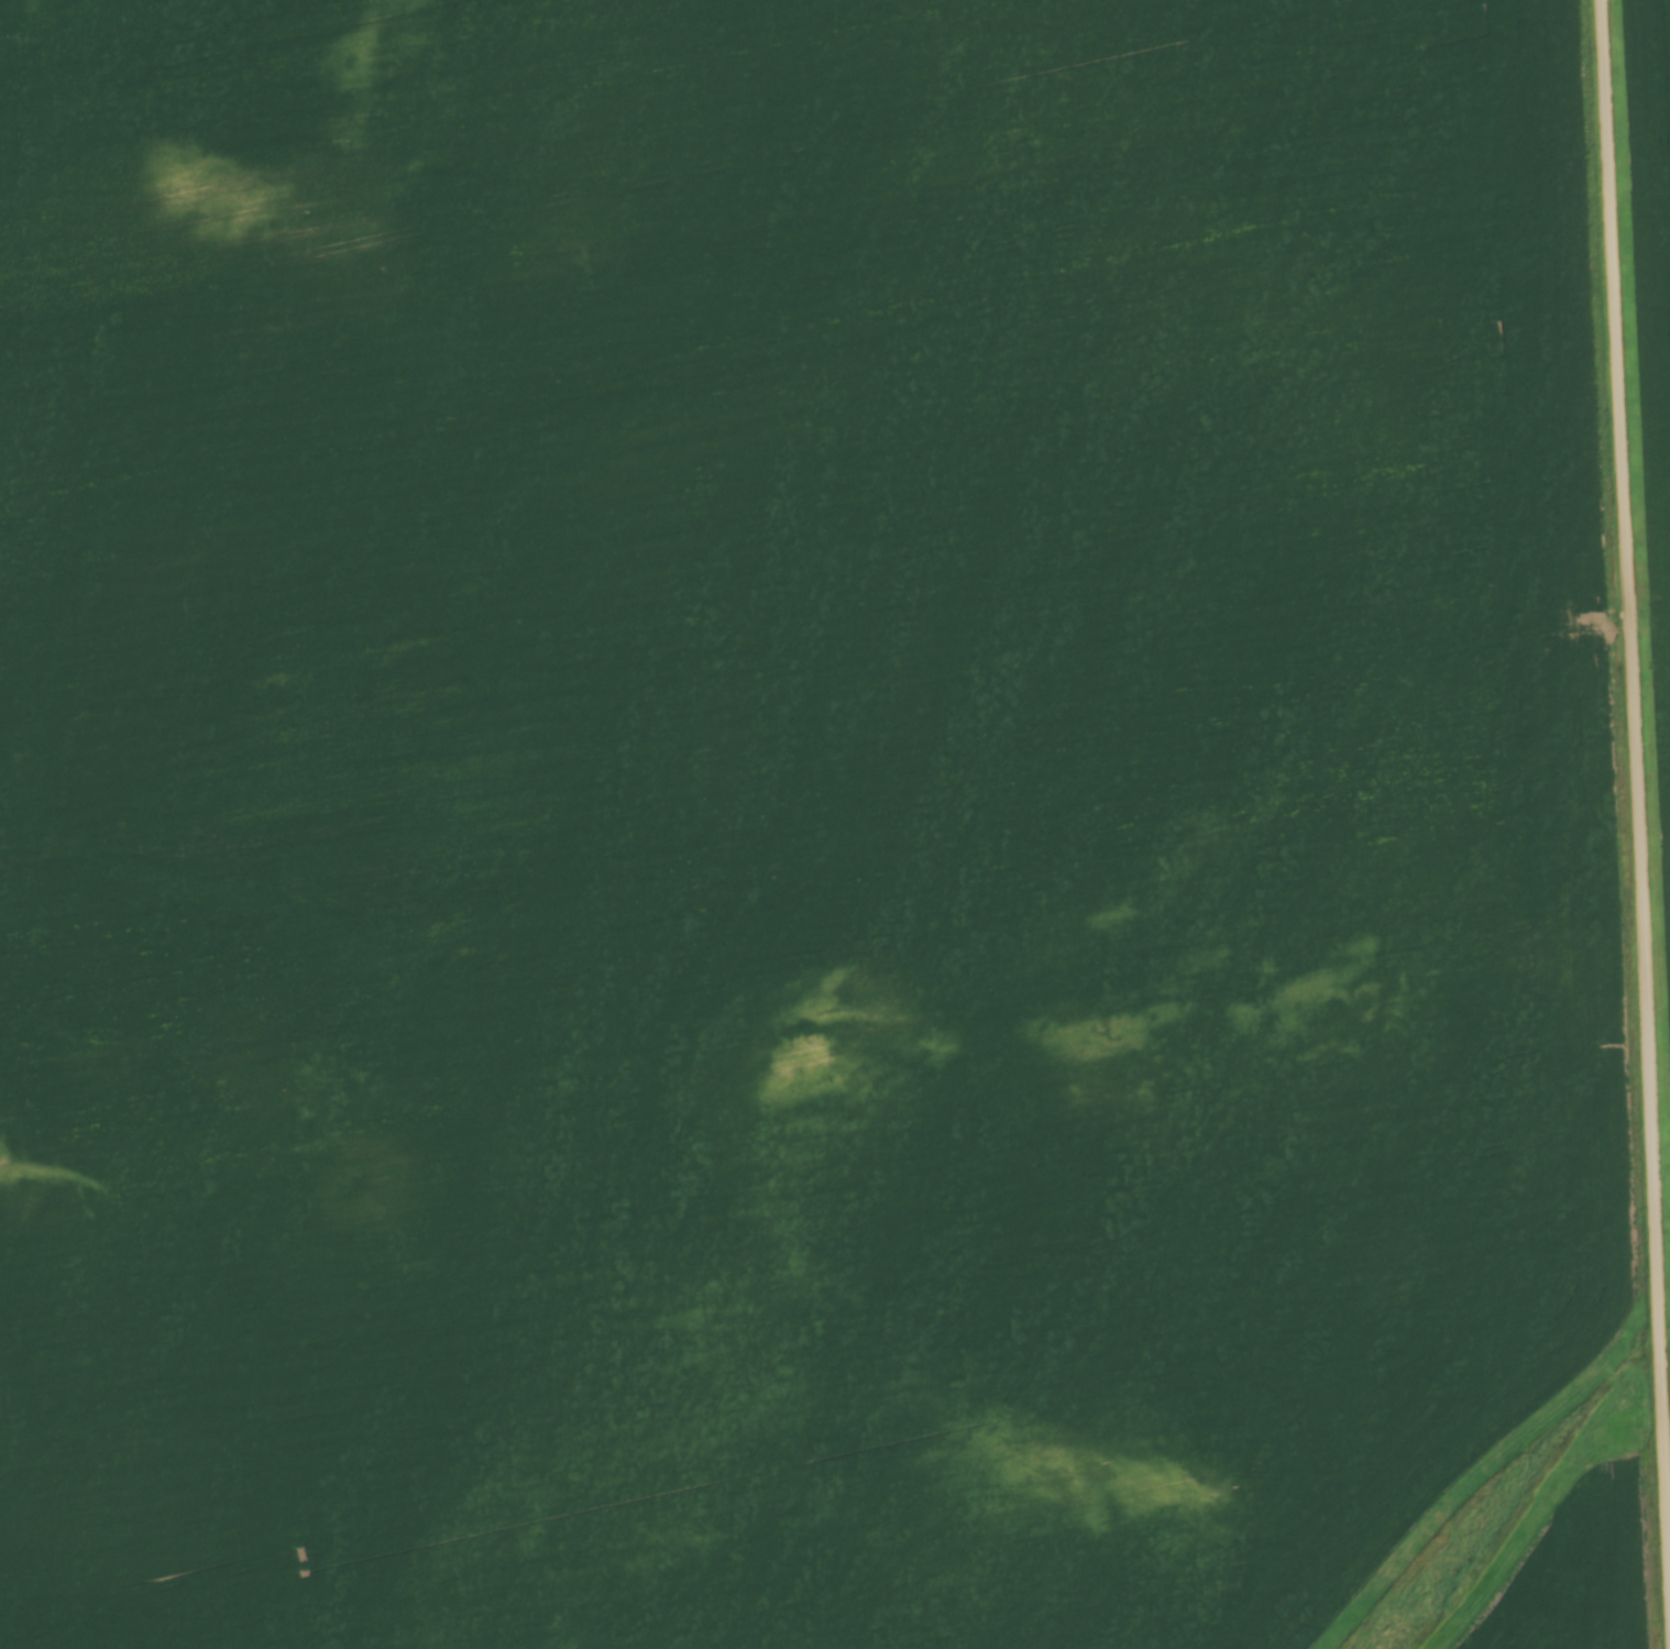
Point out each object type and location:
road: (1634, 824)

